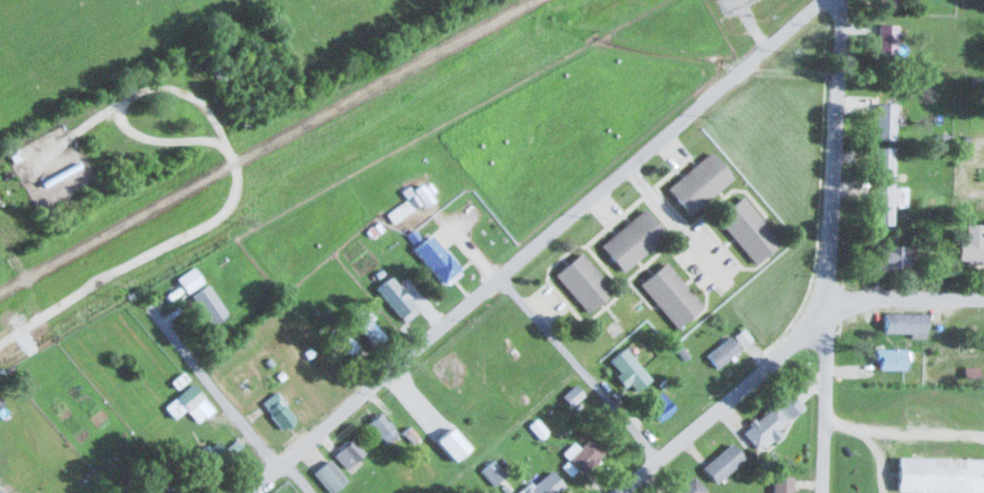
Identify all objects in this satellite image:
building: (887, 2)
building: (887, 40)
road: (117, 104)
building: (885, 119)
building: (699, 181)
building: (885, 187)
building: (424, 194)
building: (400, 210)
building: (748, 228)
building: (633, 238)
building: (972, 242)
road: (533, 245)
road: (831, 249)
road: (143, 254)
building: (891, 255)
building: (437, 259)
building: (189, 278)
building: (583, 281)
building: (671, 293)
building: (396, 295)
road: (907, 297)
building: (209, 304)
building: (365, 322)
building: (905, 322)
building: (349, 344)
building: (722, 351)
building: (890, 358)
building: (450, 367)
road: (578, 367)
building: (628, 369)
road: (214, 387)
building: (189, 403)
building: (659, 405)
road: (717, 407)
building: (278, 410)
building: (765, 425)
building: (383, 427)
building: (452, 443)
building: (234, 446)
building: (349, 452)
building: (586, 455)
building: (213, 461)
building: (723, 461)
building: (492, 471)
building: (940, 474)
building: (329, 475)
road: (298, 477)
building: (781, 483)
building: (543, 485)
building: (689, 486)
building: (157, 490)

